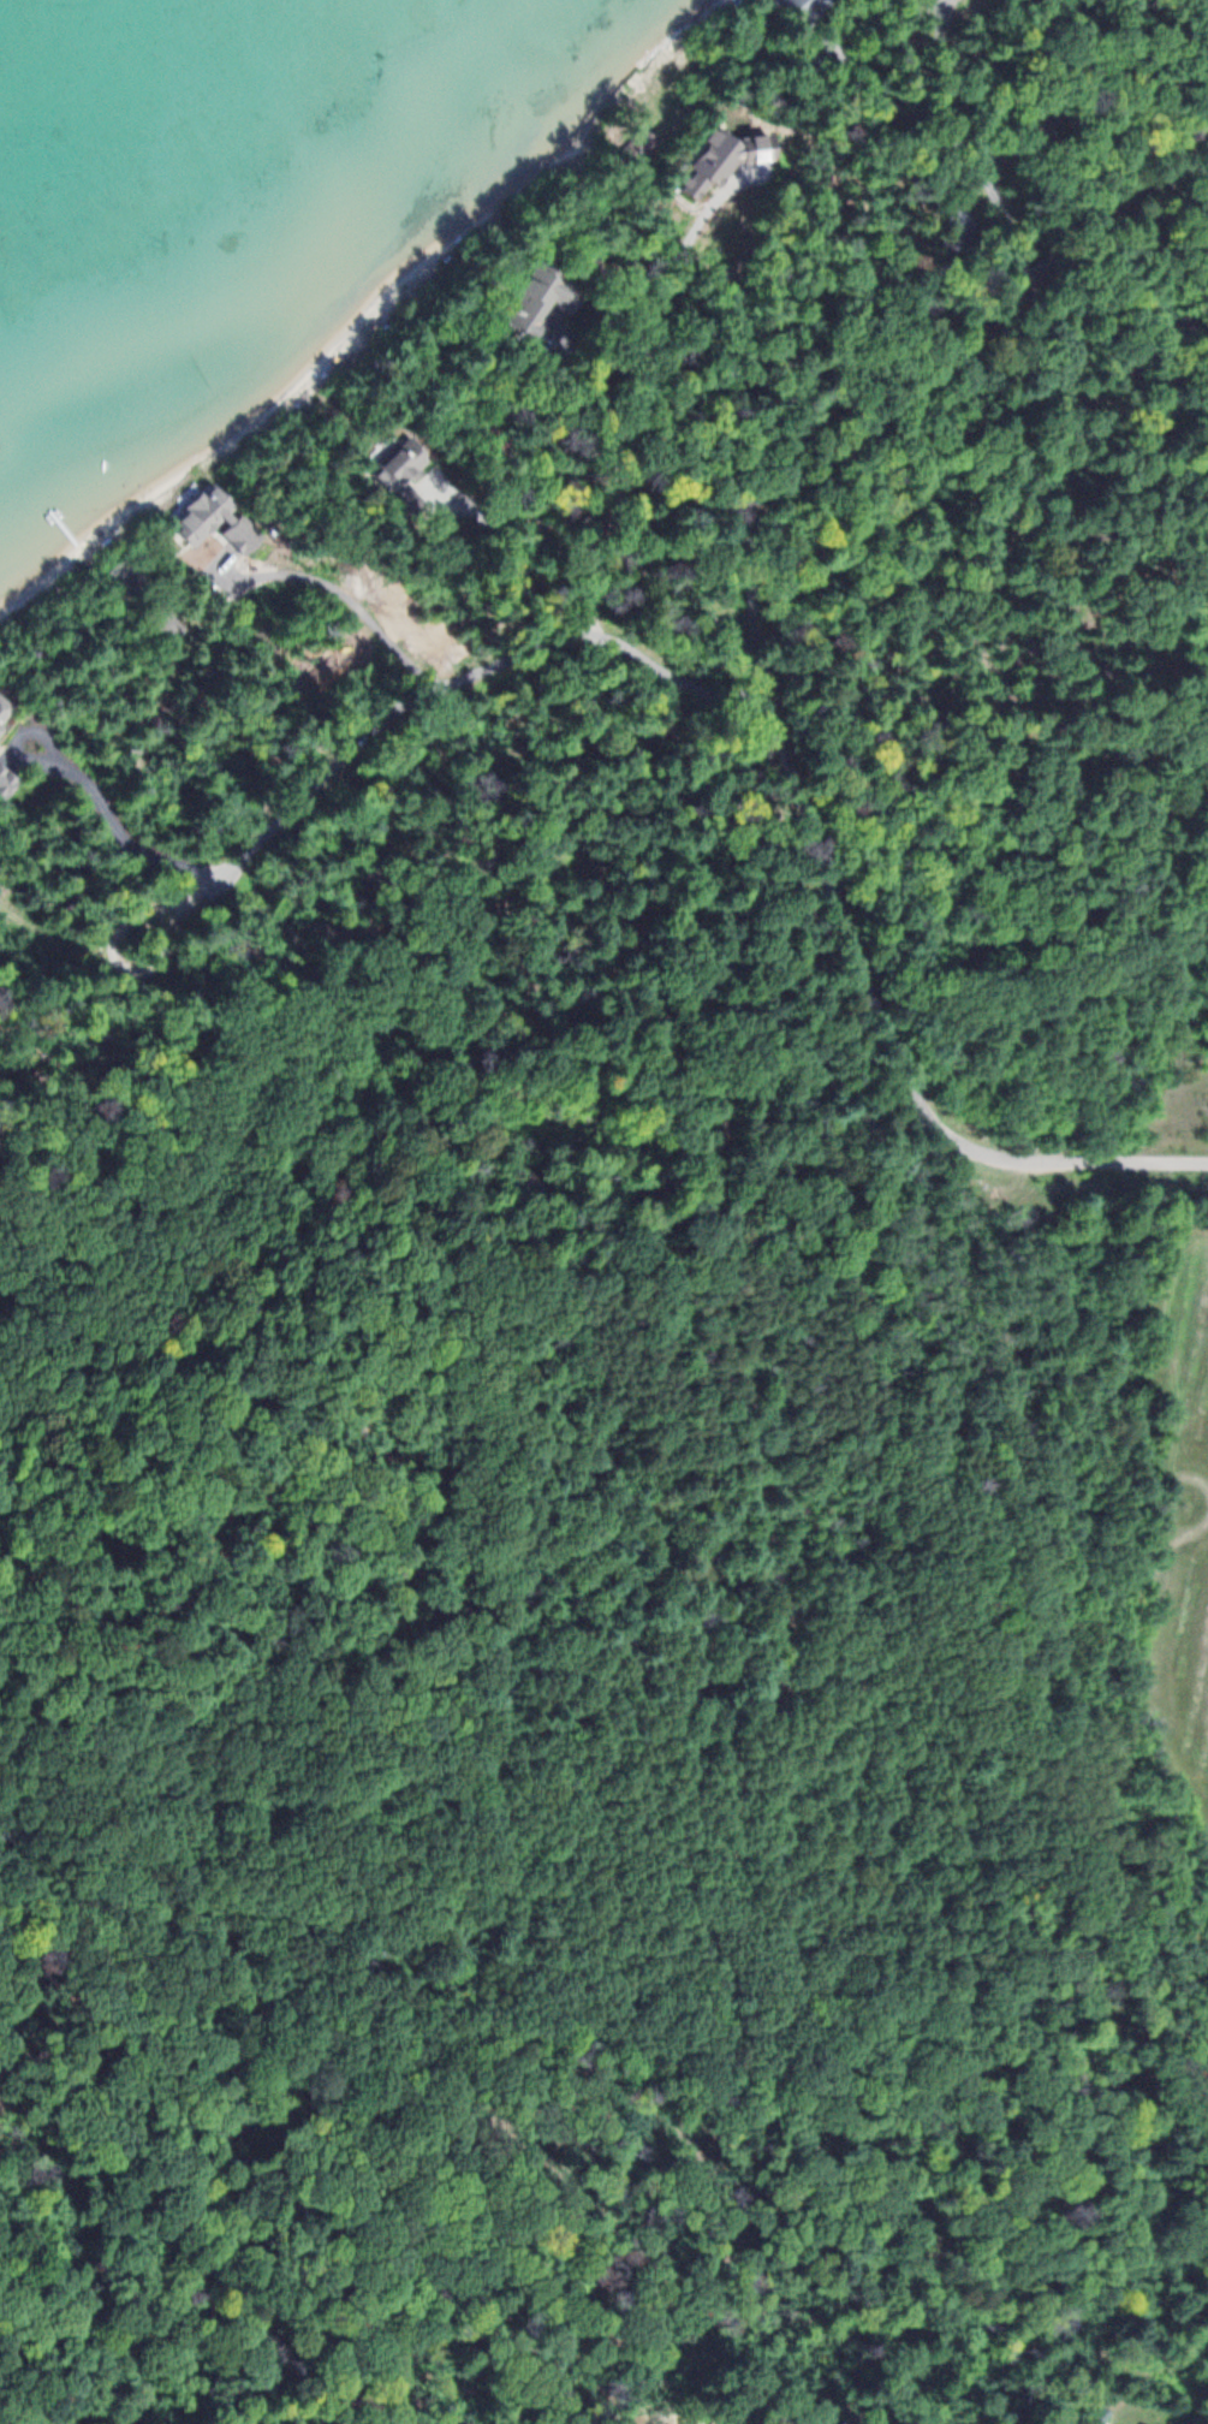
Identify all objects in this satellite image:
building: (667, 105)
building: (534, 296)
building: (401, 475)
building: (213, 518)
building: (129, 574)
road: (758, 672)
building: (5, 709)
road: (349, 743)
building: (7, 779)
road: (385, 938)

